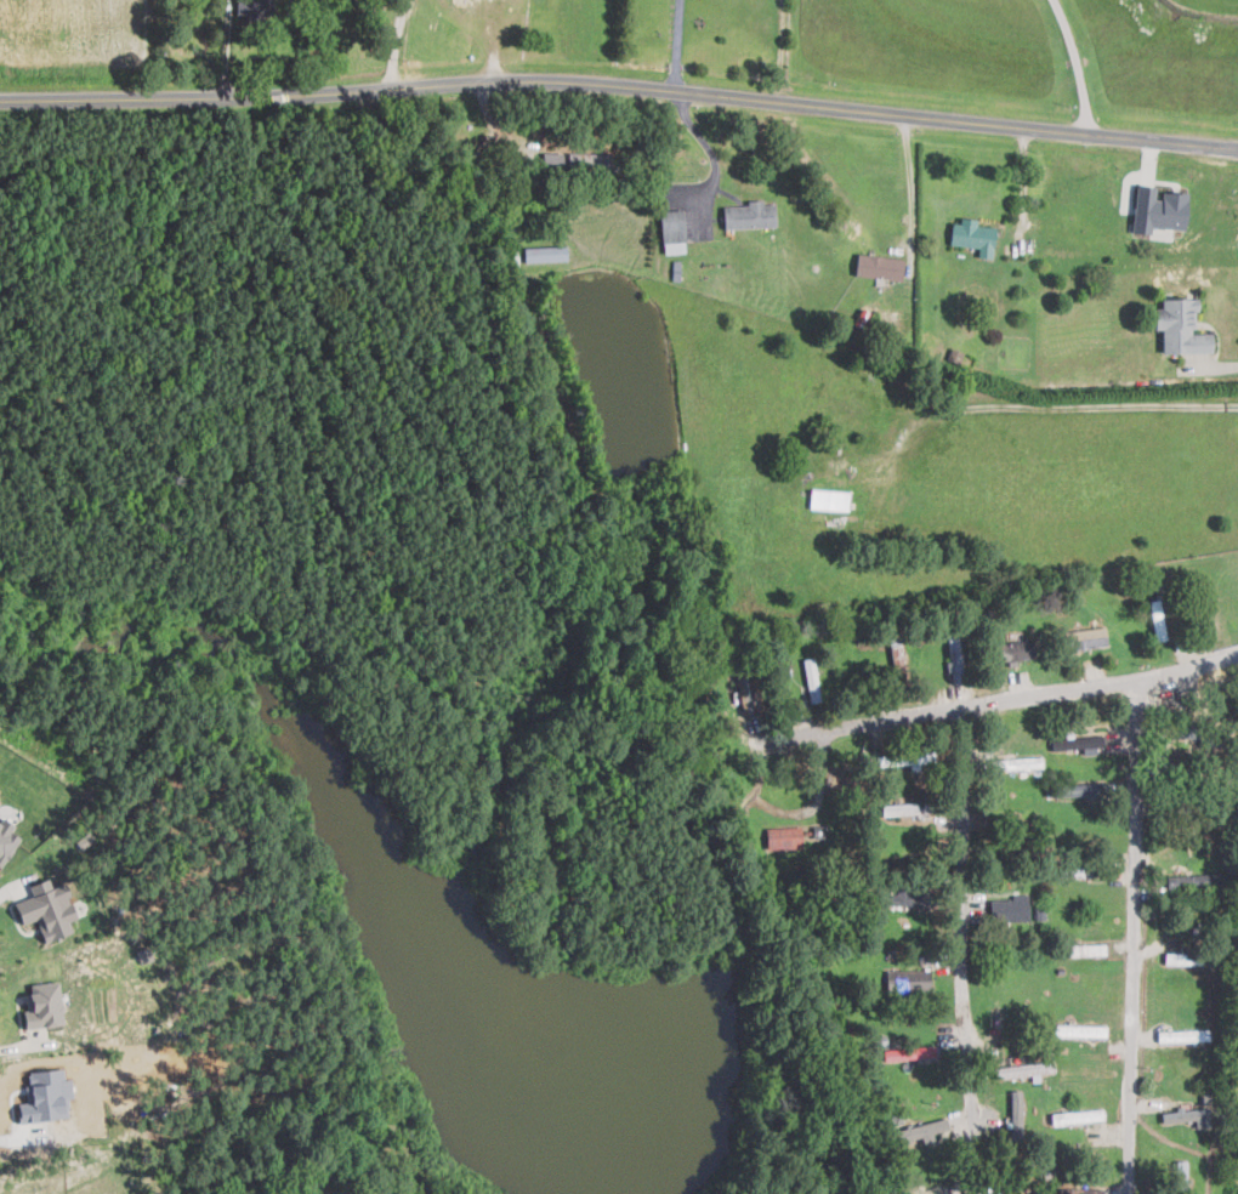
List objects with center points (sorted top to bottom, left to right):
building: (255, 6)
road: (677, 45)
road: (778, 50)
road: (1078, 66)
road: (620, 83)
building: (552, 158)
building: (592, 160)
road: (912, 182)
building: (1158, 209)
building: (750, 215)
building: (674, 231)
building: (973, 235)
building: (545, 252)
building: (880, 266)
building: (1180, 325)
road: (1035, 406)
building: (829, 497)
building: (1086, 636)
building: (1015, 649)
building: (812, 680)
building: (749, 694)
road: (1021, 699)
building: (1079, 741)
building: (1018, 762)
building: (1083, 789)
building: (907, 808)
building: (784, 837)
building: (6, 840)
building: (1196, 881)
building: (907, 897)
building: (47, 908)
building: (1011, 908)
road: (1140, 939)
road: (965, 950)
building: (1174, 957)
building: (908, 979)
building: (44, 1003)
building: (1080, 1030)
building: (1183, 1035)
road: (19, 1046)
building: (909, 1052)
building: (1026, 1069)
building: (1016, 1114)
building: (1078, 1115)
building: (1188, 1115)
building: (921, 1130)
building: (1083, 1190)
building: (999, 1193)

